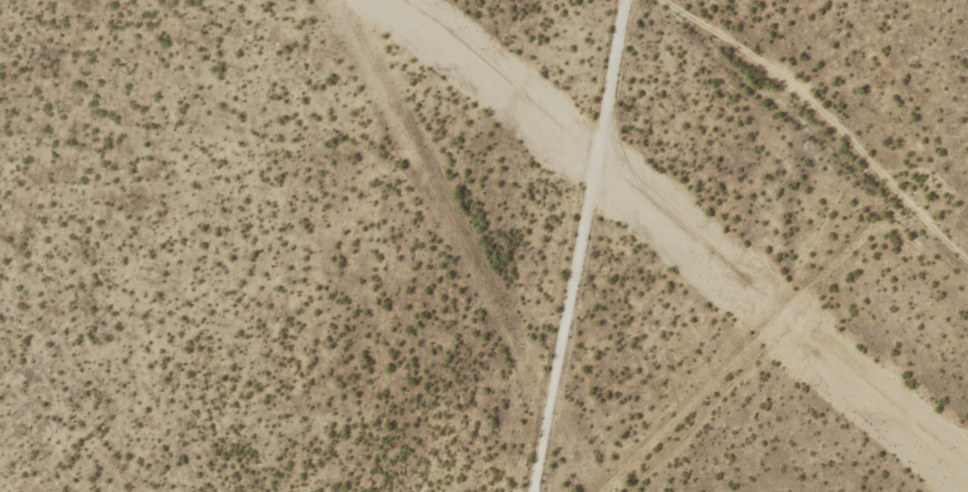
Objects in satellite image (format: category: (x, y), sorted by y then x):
road: (580, 246)

